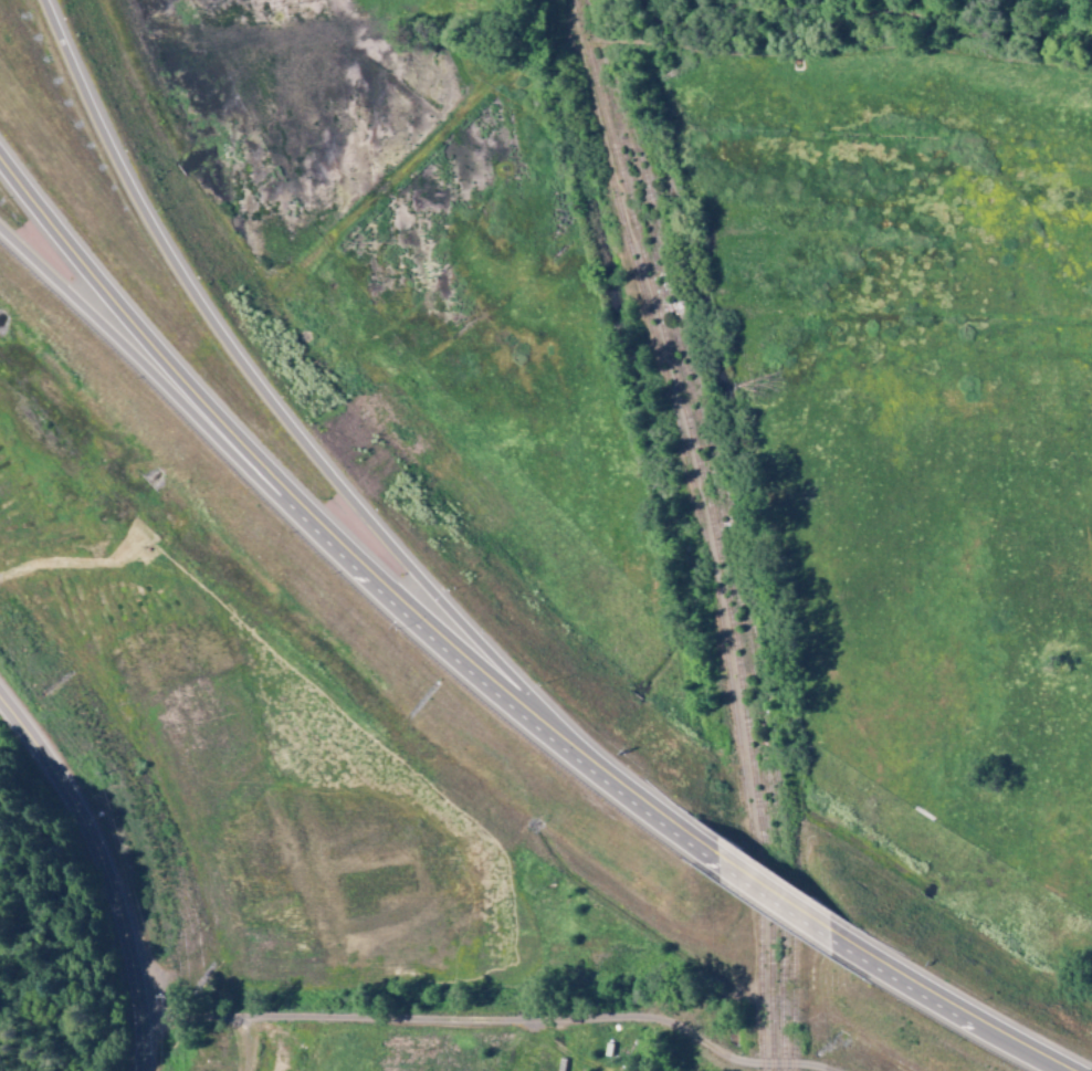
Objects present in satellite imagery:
road: (153, 376)
road: (272, 406)
railway: (732, 527)
railway: (697, 528)
railway: (708, 528)
road: (328, 539)
railway: (724, 547)
road: (106, 868)
road: (771, 896)
road: (945, 1005)

